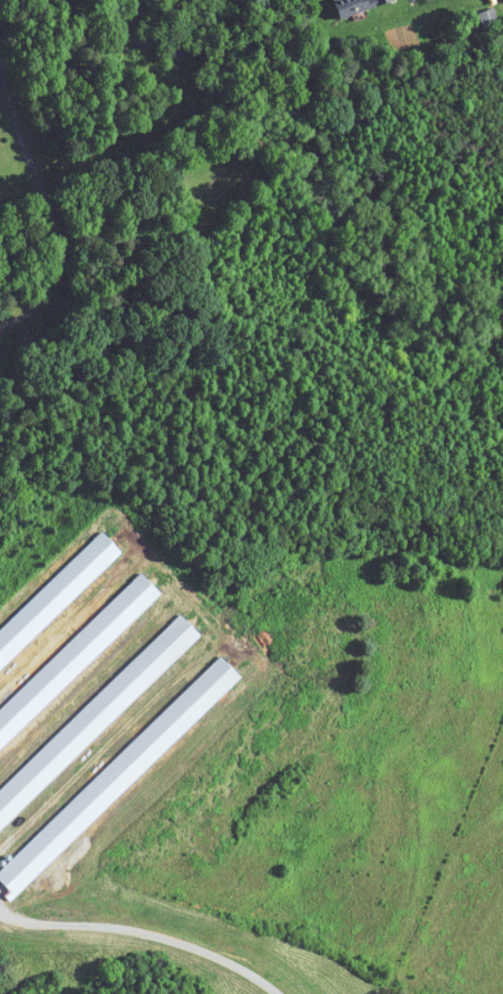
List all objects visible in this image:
building: (355, 6)
building: (489, 19)
road: (51, 208)
road: (148, 932)

